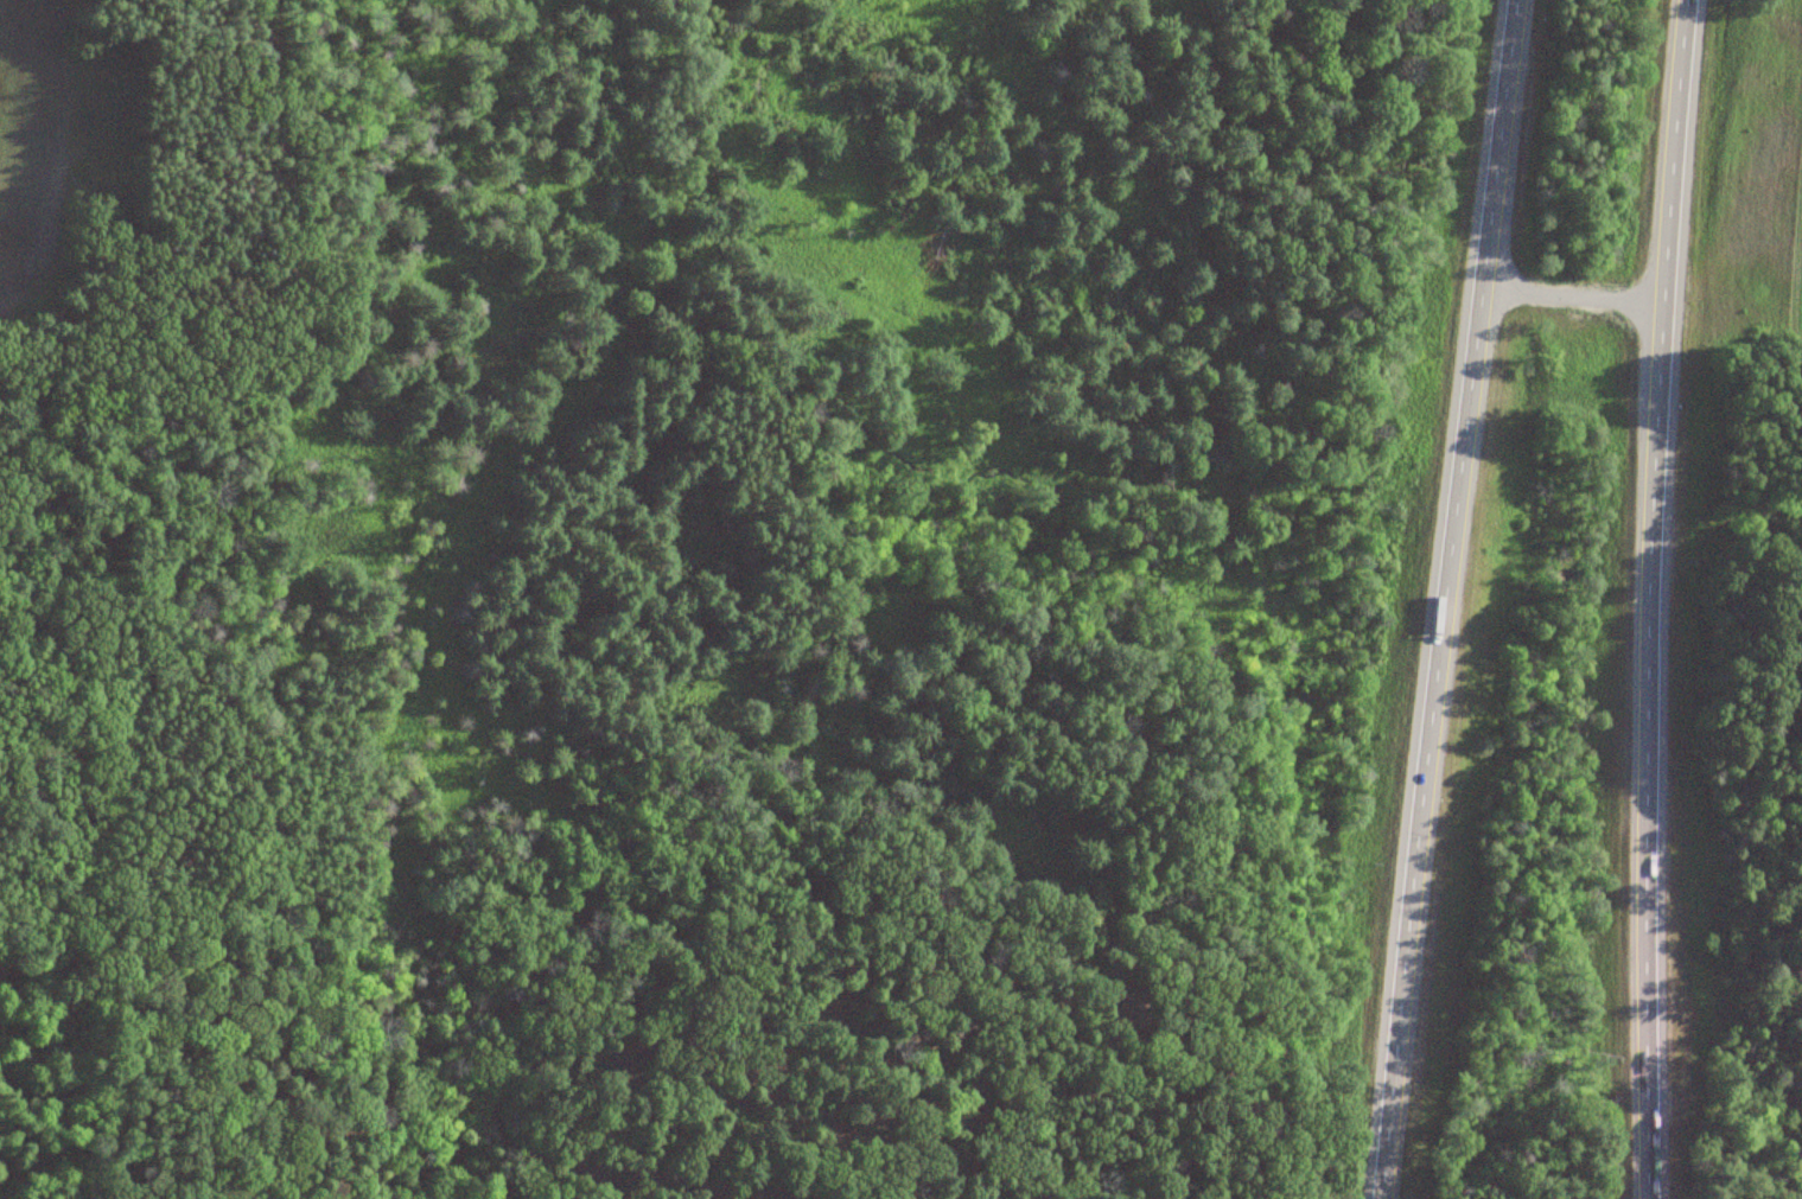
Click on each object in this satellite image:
road: (1556, 293)
road: (1416, 598)
road: (1642, 598)

